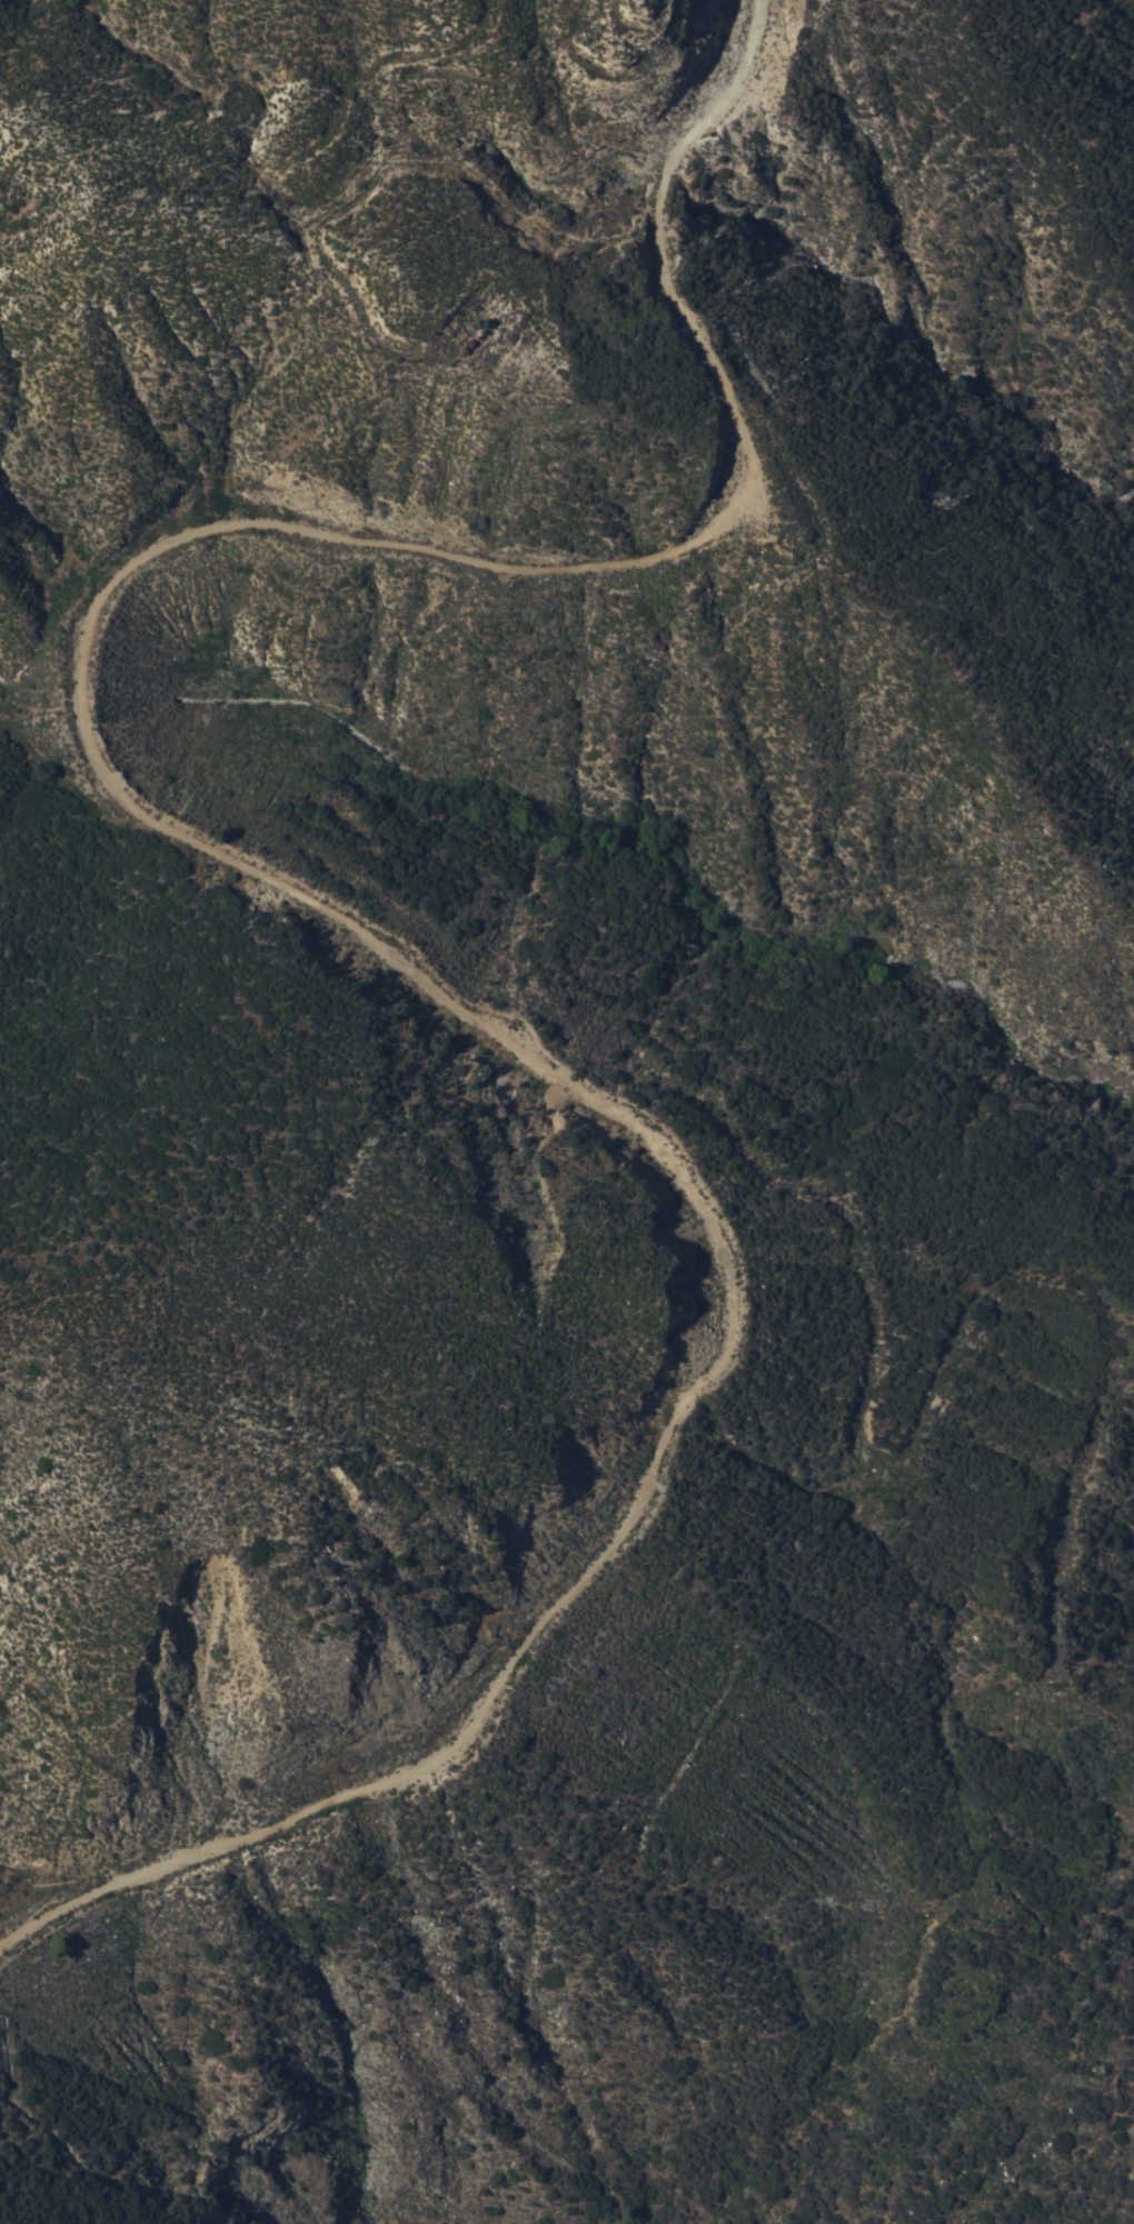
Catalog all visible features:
road: (263, 193)
road: (605, 231)
road: (289, 895)

